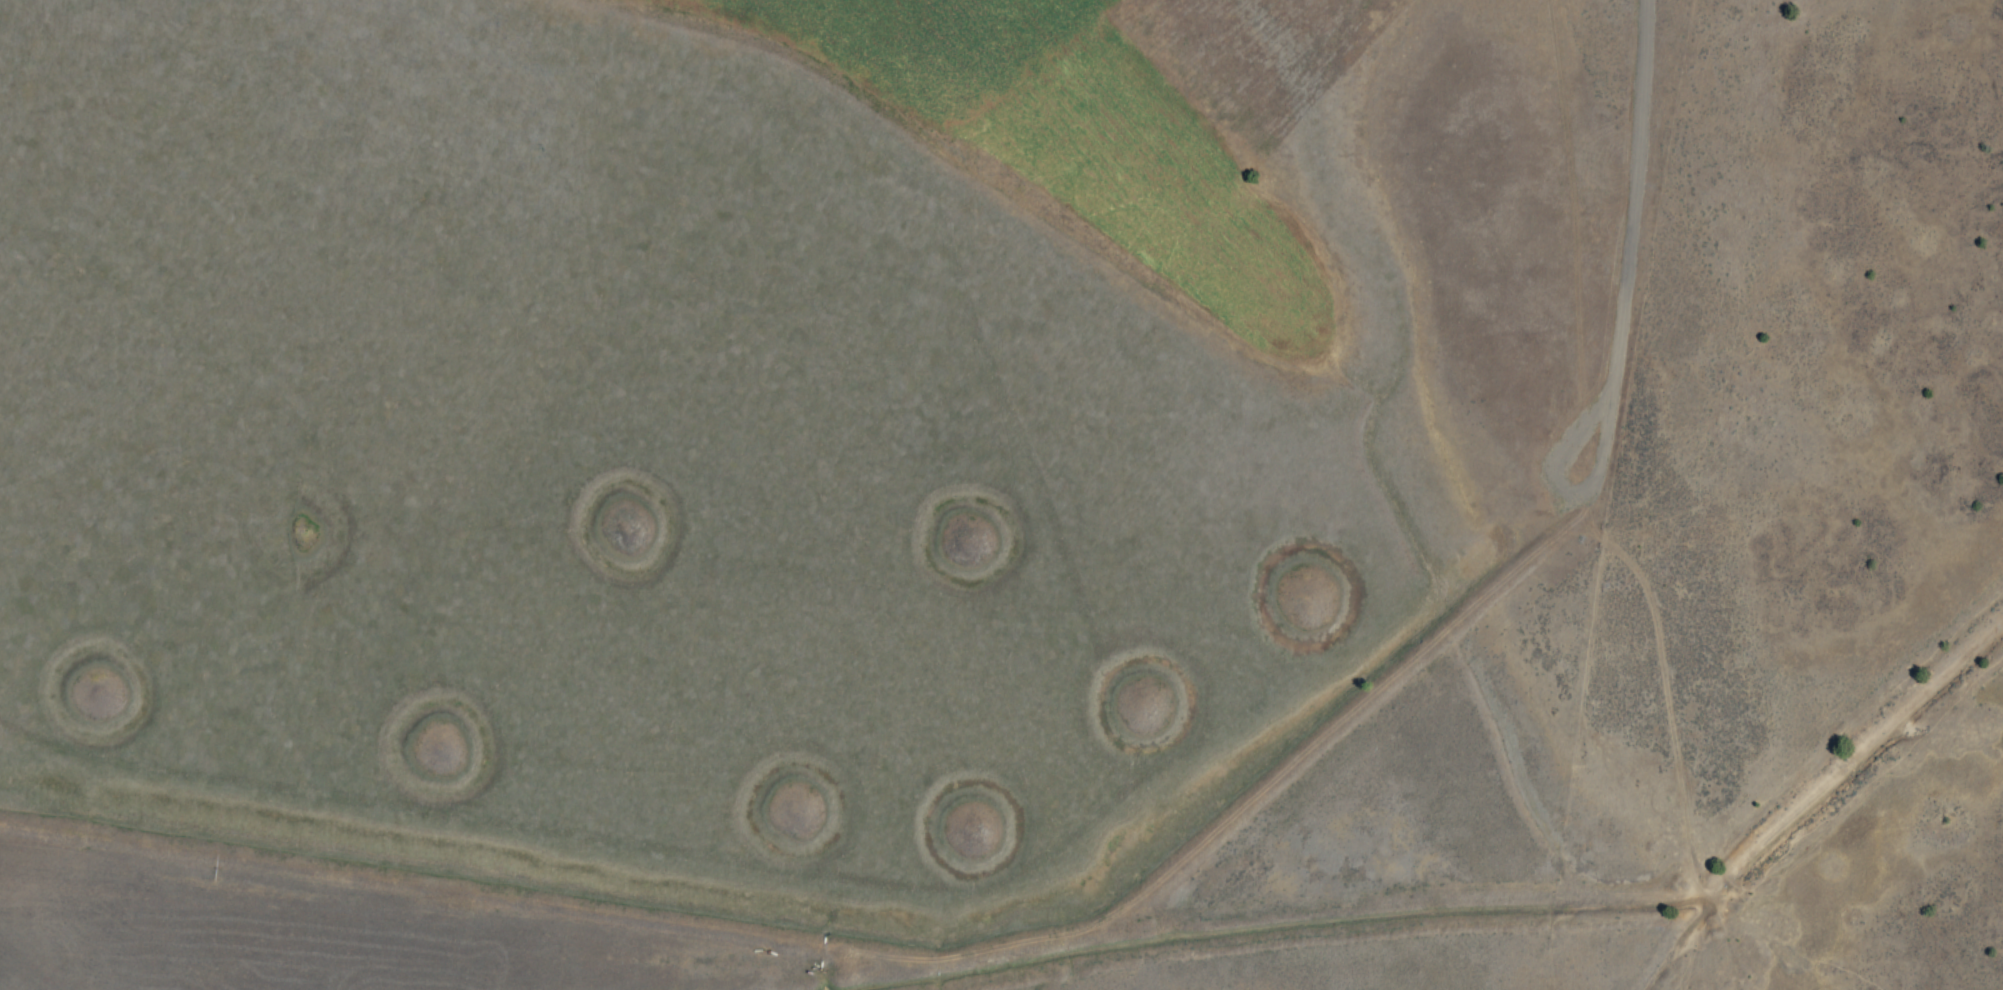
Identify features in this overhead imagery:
crop: (1075, 148)
crop: (316, 935)

